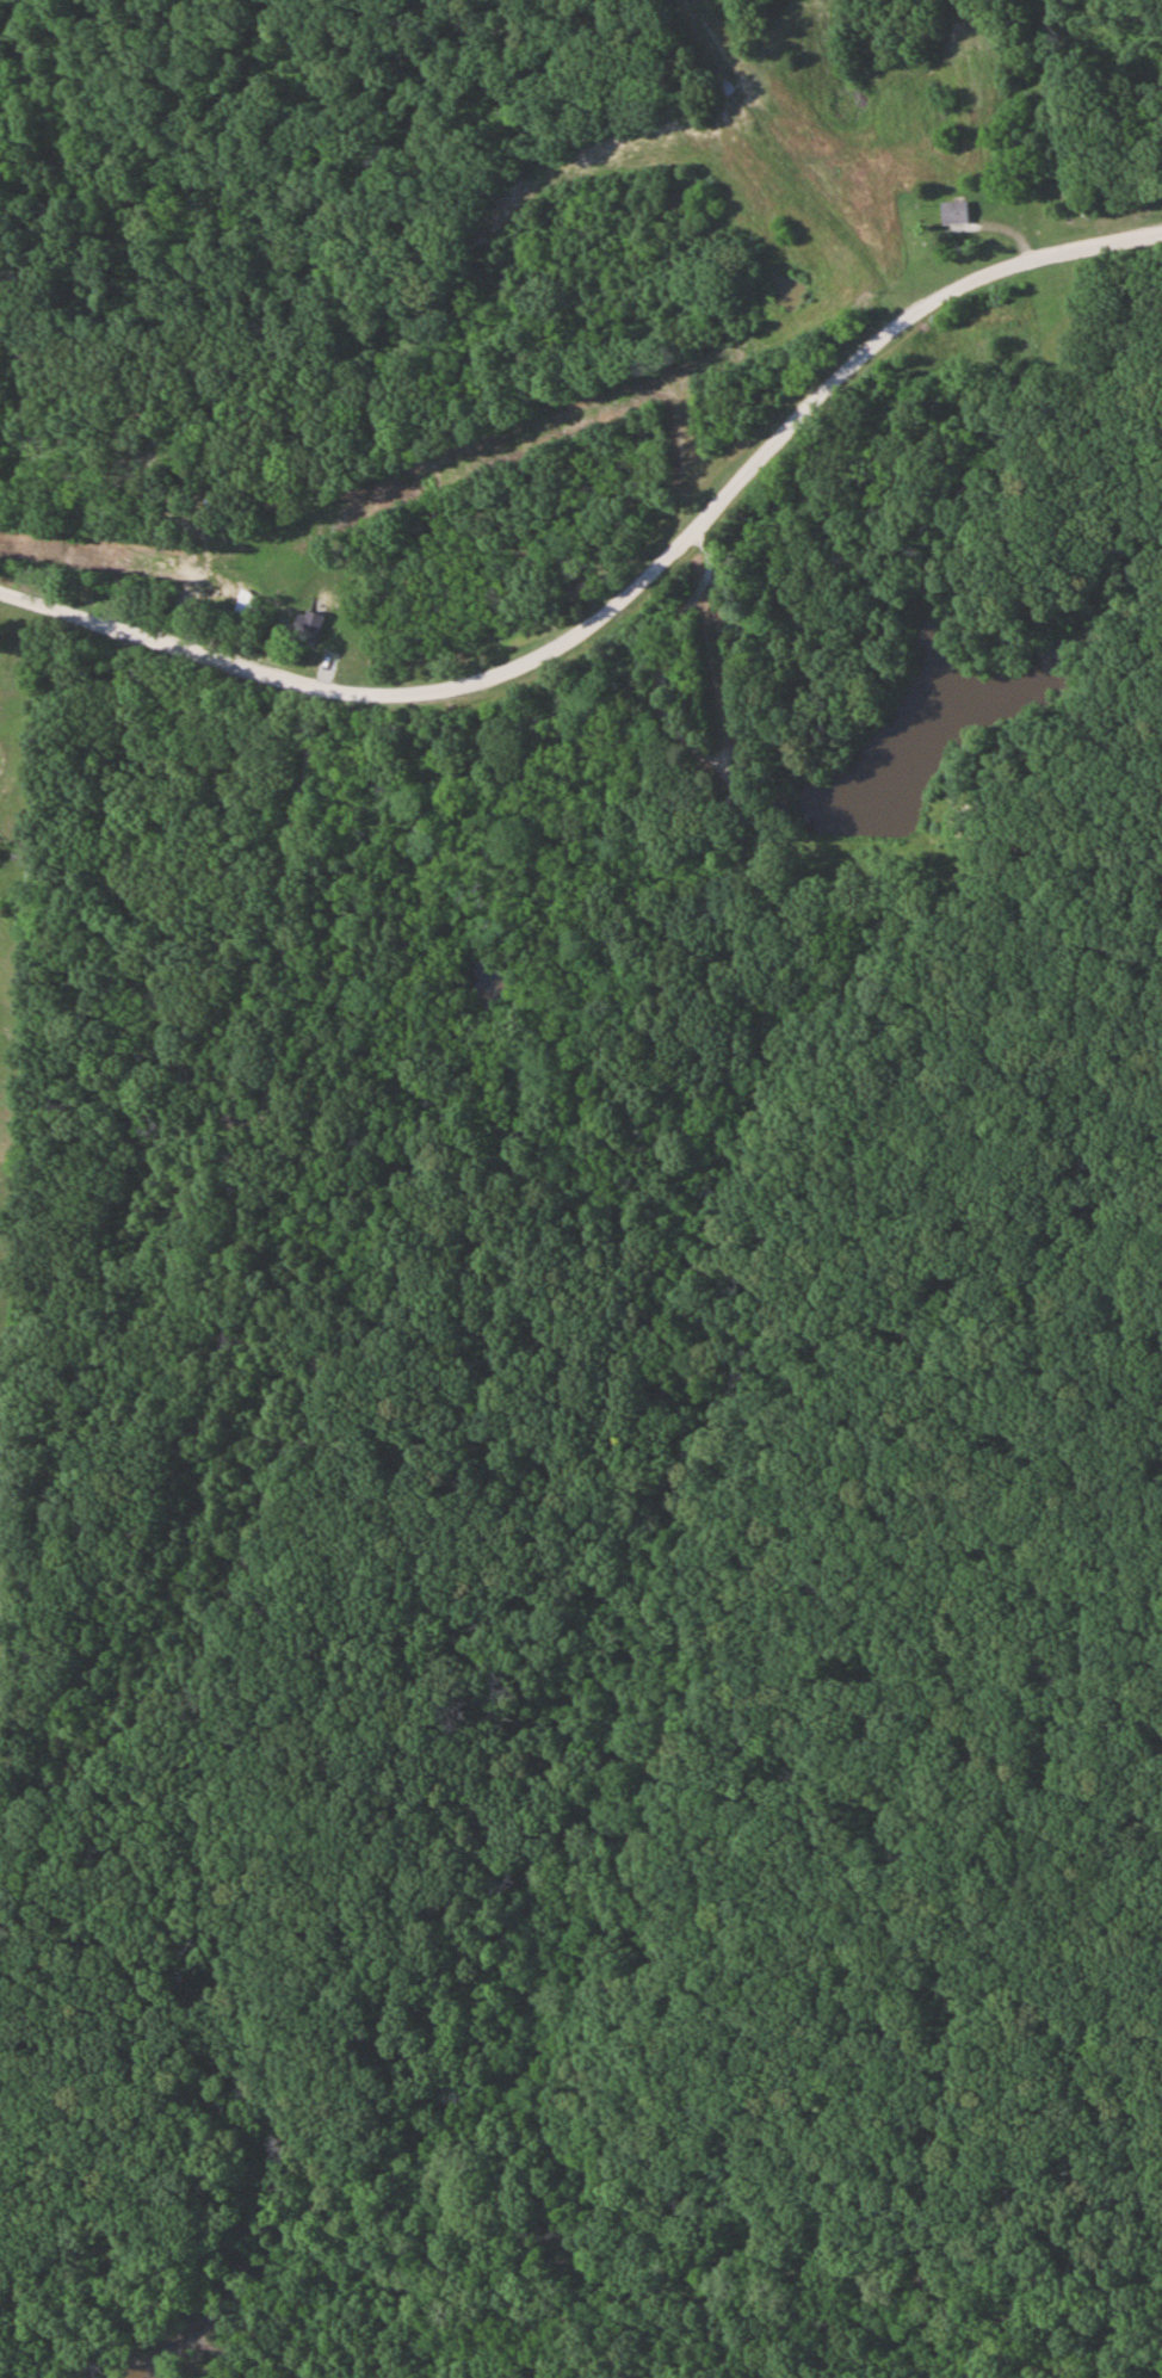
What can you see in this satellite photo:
road: (610, 141)
road: (787, 159)
building: (953, 212)
road: (626, 586)
building: (296, 624)

